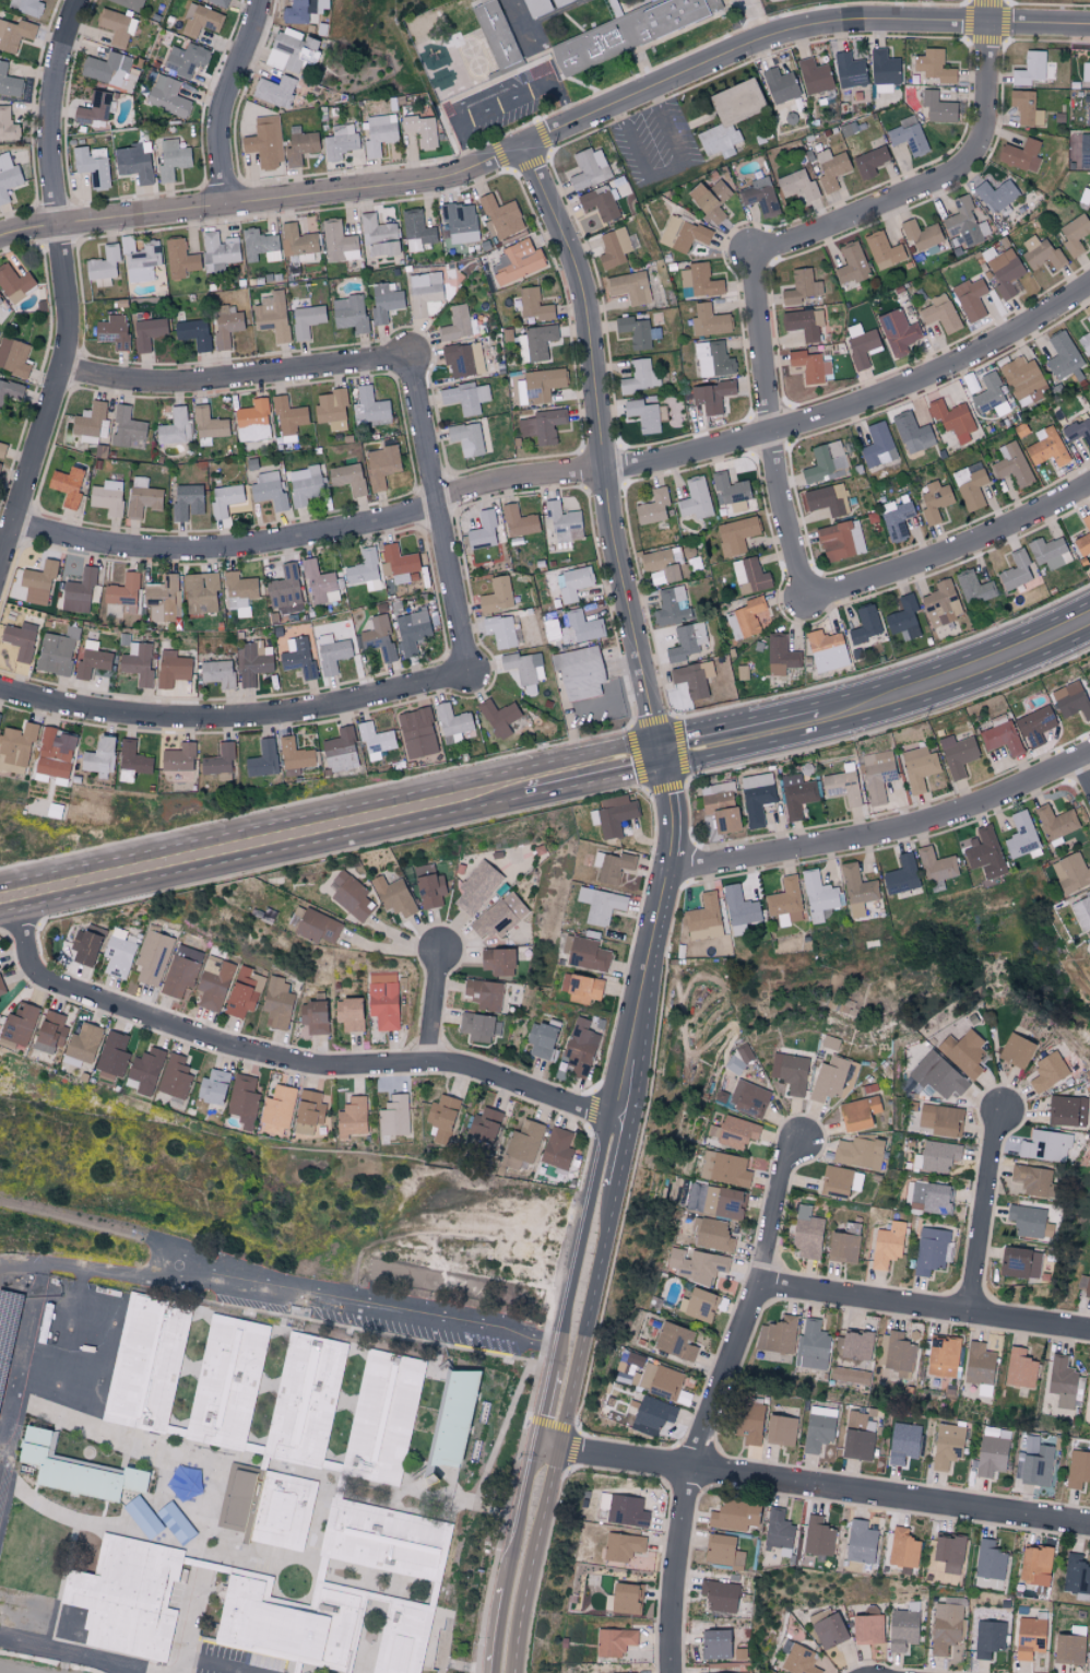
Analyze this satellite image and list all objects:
building: (477, 0)
building: (651, 0)
building: (129, 3)
building: (218, 3)
building: (549, 5)
building: (26, 7)
building: (303, 10)
road: (988, 12)
road: (755, 20)
building: (200, 21)
road: (927, 23)
building: (117, 26)
building: (501, 33)
building: (14, 34)
building: (636, 34)
building: (292, 50)
building: (187, 59)
road: (710, 64)
building: (934, 66)
building: (884, 68)
building: (1029, 69)
building: (109, 70)
building: (850, 71)
building: (1086, 72)
building: (815, 76)
building: (9, 82)
building: (780, 85)
building: (275, 91)
building: (166, 95)
road: (635, 97)
road: (225, 103)
parking lot: (501, 103)
road: (502, 105)
building: (937, 107)
building: (93, 108)
building: (1026, 108)
road: (593, 116)
building: (730, 116)
building: (1087, 118)
building: (8, 127)
building: (422, 130)
building: (380, 133)
building: (908, 136)
road: (547, 137)
building: (265, 142)
building: (340, 142)
building: (299, 146)
building: (1083, 151)
building: (1020, 155)
building: (171, 160)
building: (869, 162)
building: (133, 163)
building: (93, 166)
building: (588, 168)
building: (831, 168)
road: (666, 172)
building: (8, 177)
road: (932, 184)
building: (797, 185)
building: (996, 195)
building: (760, 196)
building: (1085, 197)
building: (709, 199)
building: (599, 203)
road: (264, 204)
building: (500, 216)
building: (460, 222)
building: (962, 223)
building: (416, 229)
building: (682, 233)
building: (921, 234)
building: (1074, 234)
building: (378, 236)
building: (297, 239)
building: (339, 241)
building: (260, 245)
building: (614, 247)
building: (218, 250)
building: (884, 250)
building: (1041, 254)
building: (304, 257)
building: (180, 258)
building: (141, 259)
building: (517, 261)
building: (104, 263)
building: (851, 263)
building: (1003, 269)
building: (699, 280)
building: (14, 282)
road: (61, 285)
building: (630, 286)
building: (801, 286)
building: (423, 291)
building: (970, 298)
building: (383, 302)
building: (0, 304)
building: (534, 304)
building: (349, 313)
building: (939, 313)
building: (272, 314)
building: (1088, 318)
building: (306, 320)
building: (708, 320)
building: (455, 322)
building: (804, 322)
building: (226, 325)
building: (899, 330)
building: (112, 331)
building: (637, 331)
building: (146, 332)
building: (193, 332)
building: (540, 341)
building: (1085, 342)
building: (861, 345)
building: (1063, 355)
building: (13, 356)
building: (463, 358)
building: (712, 358)
building: (640, 376)
road: (232, 378)
building: (1023, 379)
building: (541, 384)
building: (991, 394)
building: (711, 396)
building: (465, 397)
road: (857, 404)
building: (369, 405)
building: (331, 409)
building: (288, 415)
building: (643, 415)
building: (952, 419)
building: (252, 421)
building: (91, 422)
building: (209, 425)
building: (542, 425)
building: (175, 426)
building: (127, 428)
road: (770, 429)
building: (1079, 429)
building: (912, 433)
building: (466, 438)
building: (877, 445)
building: (1, 447)
road: (602, 447)
building: (1046, 447)
building: (825, 462)
building: (1012, 464)
building: (380, 466)
building: (347, 478)
building: (969, 478)
building: (67, 485)
building: (304, 485)
building: (728, 488)
building: (269, 490)
building: (107, 496)
building: (142, 497)
building: (224, 498)
building: (696, 498)
building: (826, 498)
building: (934, 499)
building: (187, 500)
building: (652, 506)
road: (435, 514)
building: (896, 519)
building: (518, 521)
building: (562, 521)
building: (483, 531)
road: (311, 532)
building: (736, 533)
building: (1083, 538)
building: (840, 539)
road: (956, 545)
building: (1048, 552)
building: (398, 563)
building: (663, 564)
building: (364, 570)
building: (1015, 570)
building: (750, 573)
building: (37, 581)
building: (573, 582)
building: (319, 584)
building: (973, 587)
building: (122, 590)
building: (285, 590)
building: (78, 591)
building: (239, 592)
building: (200, 593)
building: (497, 594)
building: (163, 599)
building: (941, 601)
building: (672, 606)
building: (745, 617)
building: (903, 618)
building: (864, 624)
building: (580, 627)
building: (500, 629)
building: (413, 631)
building: (378, 637)
building: (20, 639)
building: (686, 640)
building: (826, 650)
building: (56, 651)
building: (331, 652)
building: (780, 655)
building: (297, 657)
building: (92, 659)
building: (138, 662)
building: (524, 665)
building: (171, 668)
building: (217, 672)
building: (579, 673)
road: (956, 678)
building: (691, 679)
building: (1073, 700)
building: (498, 717)
road: (234, 719)
building: (452, 722)
building: (1034, 726)
building: (417, 732)
building: (999, 735)
road: (738, 738)
building: (376, 741)
building: (15, 746)
building: (341, 750)
building: (54, 752)
building: (295, 754)
building: (957, 754)
traffic signals: (662, 755)
building: (98, 757)
building: (132, 757)
building: (178, 757)
building: (263, 758)
building: (218, 759)
building: (919, 767)
road: (1085, 769)
building: (877, 775)
road: (596, 784)
building: (842, 785)
building: (797, 793)
building: (757, 797)
road: (673, 804)
building: (720, 806)
road: (331, 814)
building: (613, 814)
building: (1056, 823)
road: (887, 834)
building: (1022, 837)
building: (984, 853)
road: (262, 855)
building: (936, 864)
building: (612, 865)
building: (1070, 872)
building: (900, 875)
building: (428, 886)
building: (476, 887)
building: (856, 889)
building: (351, 895)
building: (393, 896)
building: (818, 896)
building: (785, 902)
building: (600, 905)
building: (739, 906)
building: (1082, 911)
building: (499, 916)
building: (703, 918)
building: (317, 926)
building: (85, 944)
road: (392, 947)
building: (1089, 949)
building: (119, 952)
building: (588, 954)
building: (153, 957)
building: (497, 961)
building: (181, 970)
building: (213, 983)
road: (643, 987)
building: (1, 988)
building: (581, 988)
building: (242, 992)
building: (483, 994)
building: (383, 1001)
building: (276, 1003)
road: (434, 1004)
building: (349, 1013)
building: (313, 1016)
building: (19, 1024)
building: (478, 1026)
building: (50, 1032)
building: (541, 1040)
building: (829, 1041)
building: (83, 1042)
building: (579, 1047)
building: (1016, 1050)
building: (963, 1052)
building: (114, 1055)
road: (294, 1061)
building: (144, 1071)
building: (1047, 1071)
building: (790, 1072)
building: (937, 1075)
building: (175, 1076)
building: (830, 1079)
building: (212, 1089)
building: (242, 1100)
building: (276, 1110)
building: (1066, 1110)
building: (308, 1111)
traffic signals: (1003, 1111)
building: (858, 1112)
building: (393, 1116)
building: (352, 1117)
building: (939, 1119)
building: (484, 1124)
building: (736, 1132)
traffic signals: (787, 1138)
building: (522, 1145)
building: (1045, 1146)
building: (557, 1148)
road: (624, 1152)
building: (858, 1152)
building: (936, 1156)
building: (724, 1168)
building: (1032, 1179)
building: (840, 1180)
building: (931, 1198)
building: (714, 1200)
road: (988, 1213)
building: (1026, 1220)
road: (94, 1221)
building: (806, 1233)
building: (713, 1235)
road: (581, 1241)
building: (844, 1244)
building: (887, 1245)
building: (931, 1250)
building: (1015, 1262)
building: (695, 1265)
road: (114, 1274)
building: (1087, 1286)
building: (697, 1305)
road: (925, 1307)
road: (368, 1309)
parking lot: (374, 1312)
road: (591, 1318)
building: (9, 1324)
building: (778, 1335)
building: (675, 1341)
building: (814, 1345)
building: (856, 1345)
building: (897, 1354)
building: (943, 1356)
building: (68, 1360)
building: (152, 1367)
building: (980, 1367)
building: (1020, 1368)
building: (4, 1370)
building: (850, 1375)
building: (656, 1380)
building: (1062, 1381)
building: (230, 1389)
road: (716, 1403)
building: (309, 1404)
road: (546, 1409)
building: (652, 1414)
building: (460, 1418)
building: (747, 1422)
building: (388, 1423)
building: (0, 1424)
building: (819, 1427)
building: (779, 1429)
building: (858, 1435)
building: (904, 1442)
building: (947, 1445)
road: (550, 1448)
building: (993, 1450)
building: (1035, 1462)
building: (1078, 1469)
building: (84, 1474)
building: (190, 1487)
road: (826, 1487)
building: (273, 1509)
building: (626, 1511)
building: (733, 1516)
building: (164, 1522)
building: (779, 1531)
building: (817, 1536)
building: (860, 1542)
building: (390, 1543)
building: (621, 1546)
building: (902, 1548)
building: (723, 1552)
building: (948, 1553)
road: (512, 1558)
road: (536, 1560)
building: (990, 1560)
building: (1034, 1565)
building: (1077, 1577)
building: (720, 1595)
building: (625, 1598)
building: (133, 1603)
building: (947, 1625)
building: (296, 1626)
road: (189, 1627)
building: (903, 1627)
building: (827, 1628)
building: (867, 1629)
building: (1029, 1637)
building: (988, 1638)
building: (410, 1639)
building: (614, 1641)
building: (714, 1645)
building: (1069, 1647)
building: (798, 1660)
parking lot: (229, 1664)
road: (217, 1665)

